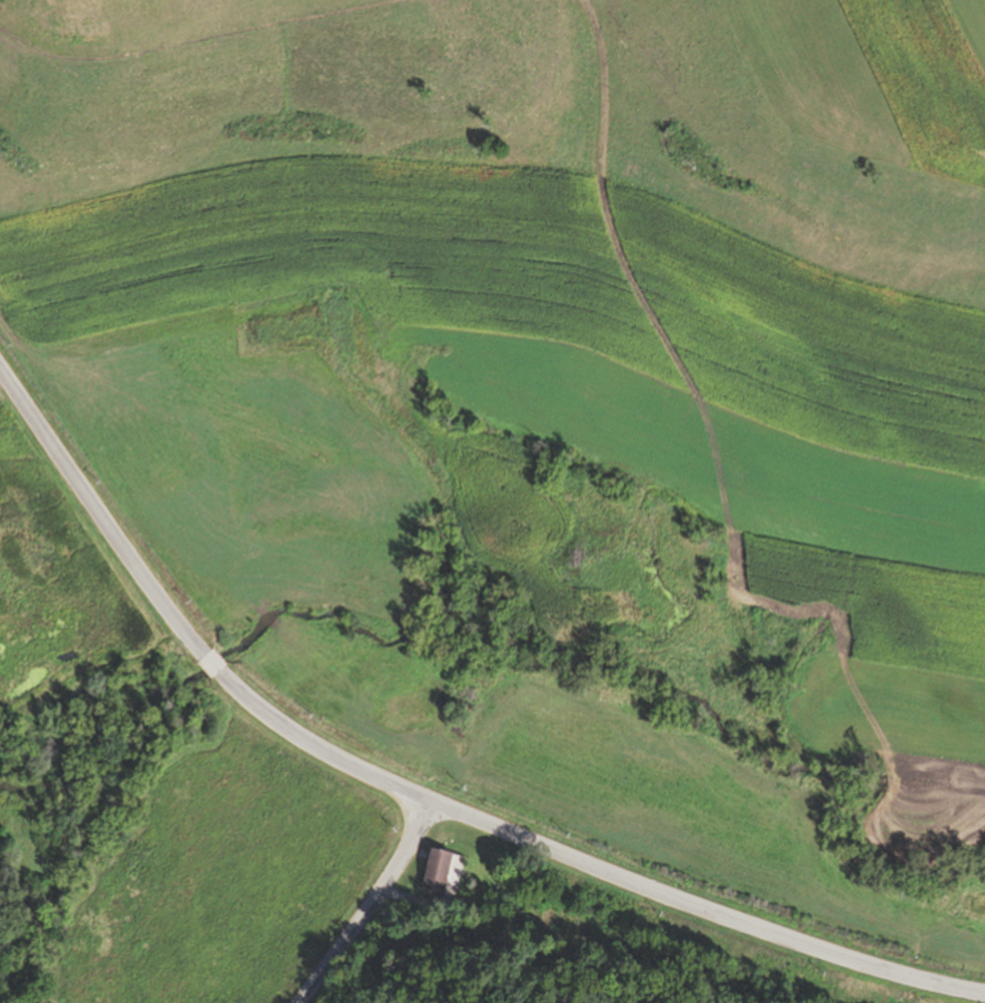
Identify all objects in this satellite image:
road: (99, 511)
road: (213, 663)
road: (589, 863)
building: (438, 873)
road: (411, 900)
road: (370, 904)
building: (462, 905)

